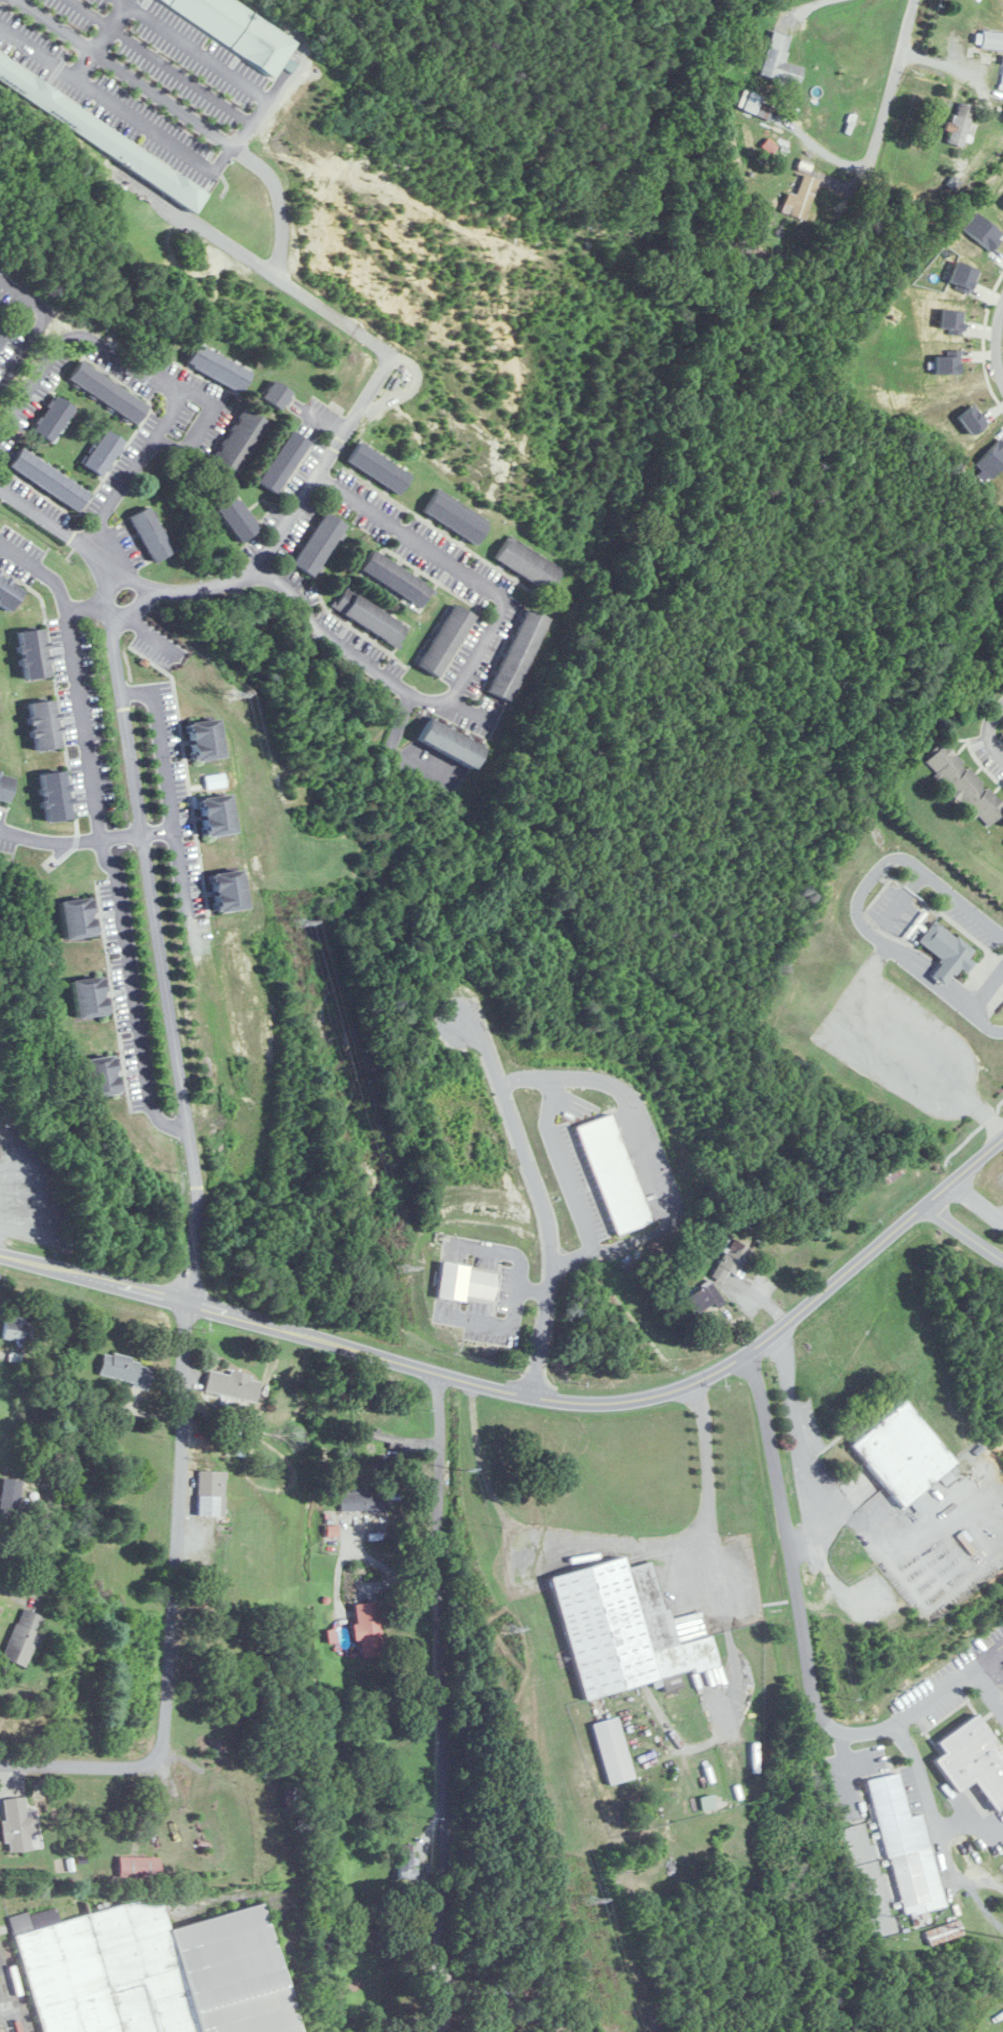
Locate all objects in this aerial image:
road: (826, 6)
road: (111, 24)
building: (243, 27)
building: (991, 40)
road: (162, 60)
building: (779, 60)
road: (84, 62)
road: (221, 63)
building: (1001, 81)
road: (889, 93)
road: (119, 107)
building: (764, 111)
building: (961, 124)
building: (851, 127)
building: (102, 134)
building: (1000, 138)
building: (769, 146)
road: (271, 176)
building: (802, 197)
road: (226, 242)
building: (1, 308)
road: (31, 332)
building: (2, 334)
road: (992, 341)
road: (102, 356)
building: (219, 367)
building: (108, 391)
building: (278, 394)
building: (54, 417)
building: (240, 442)
building: (104, 452)
building: (284, 461)
building: (379, 468)
road: (129, 474)
building: (49, 479)
building: (239, 518)
building: (456, 518)
road: (52, 530)
building: (151, 534)
building: (319, 544)
road: (263, 560)
building: (528, 564)
building: (397, 578)
building: (9, 592)
road: (89, 606)
building: (372, 617)
building: (447, 640)
building: (34, 654)
building: (519, 654)
road: (477, 656)
road: (78, 677)
power tower: (232, 691)
road: (468, 710)
road: (402, 719)
building: (45, 725)
road: (972, 725)
building: (207, 740)
building: (451, 743)
road: (161, 760)
building: (964, 785)
building: (5, 786)
building: (56, 796)
building: (218, 815)
road: (43, 838)
road: (114, 841)
road: (863, 885)
building: (230, 891)
building: (77, 918)
power tower: (298, 919)
road: (157, 934)
building: (947, 952)
road: (985, 988)
road: (131, 996)
building: (89, 997)
road: (980, 1021)
road: (999, 1030)
building: (101, 1076)
road: (651, 1153)
road: (561, 1166)
building: (615, 1174)
road: (541, 1196)
road: (976, 1203)
road: (963, 1232)
building: (734, 1256)
power tower: (404, 1268)
building: (468, 1283)
building: (704, 1298)
road: (219, 1310)
building: (17, 1329)
road: (753, 1352)
building: (126, 1370)
building: (231, 1385)
road: (797, 1449)
building: (904, 1454)
building: (211, 1493)
building: (10, 1498)
building: (362, 1498)
road: (857, 1523)
road: (944, 1523)
road: (707, 1529)
road: (175, 1530)
road: (840, 1589)
road: (14, 1590)
road: (940, 1599)
building: (368, 1628)
power tower: (506, 1629)
building: (626, 1629)
road: (810, 1629)
building: (23, 1638)
road: (987, 1689)
road: (440, 1703)
building: (612, 1750)
building: (973, 1759)
road: (79, 1765)
road: (215, 1773)
building: (290, 1798)
building: (708, 1802)
road: (928, 1807)
building: (18, 1823)
building: (907, 1848)
building: (405, 1861)
building: (138, 1866)
power tower: (588, 1899)
building: (155, 1971)
road: (474, 1996)
road: (10, 2000)
road: (447, 2020)
building: (510, 2020)

